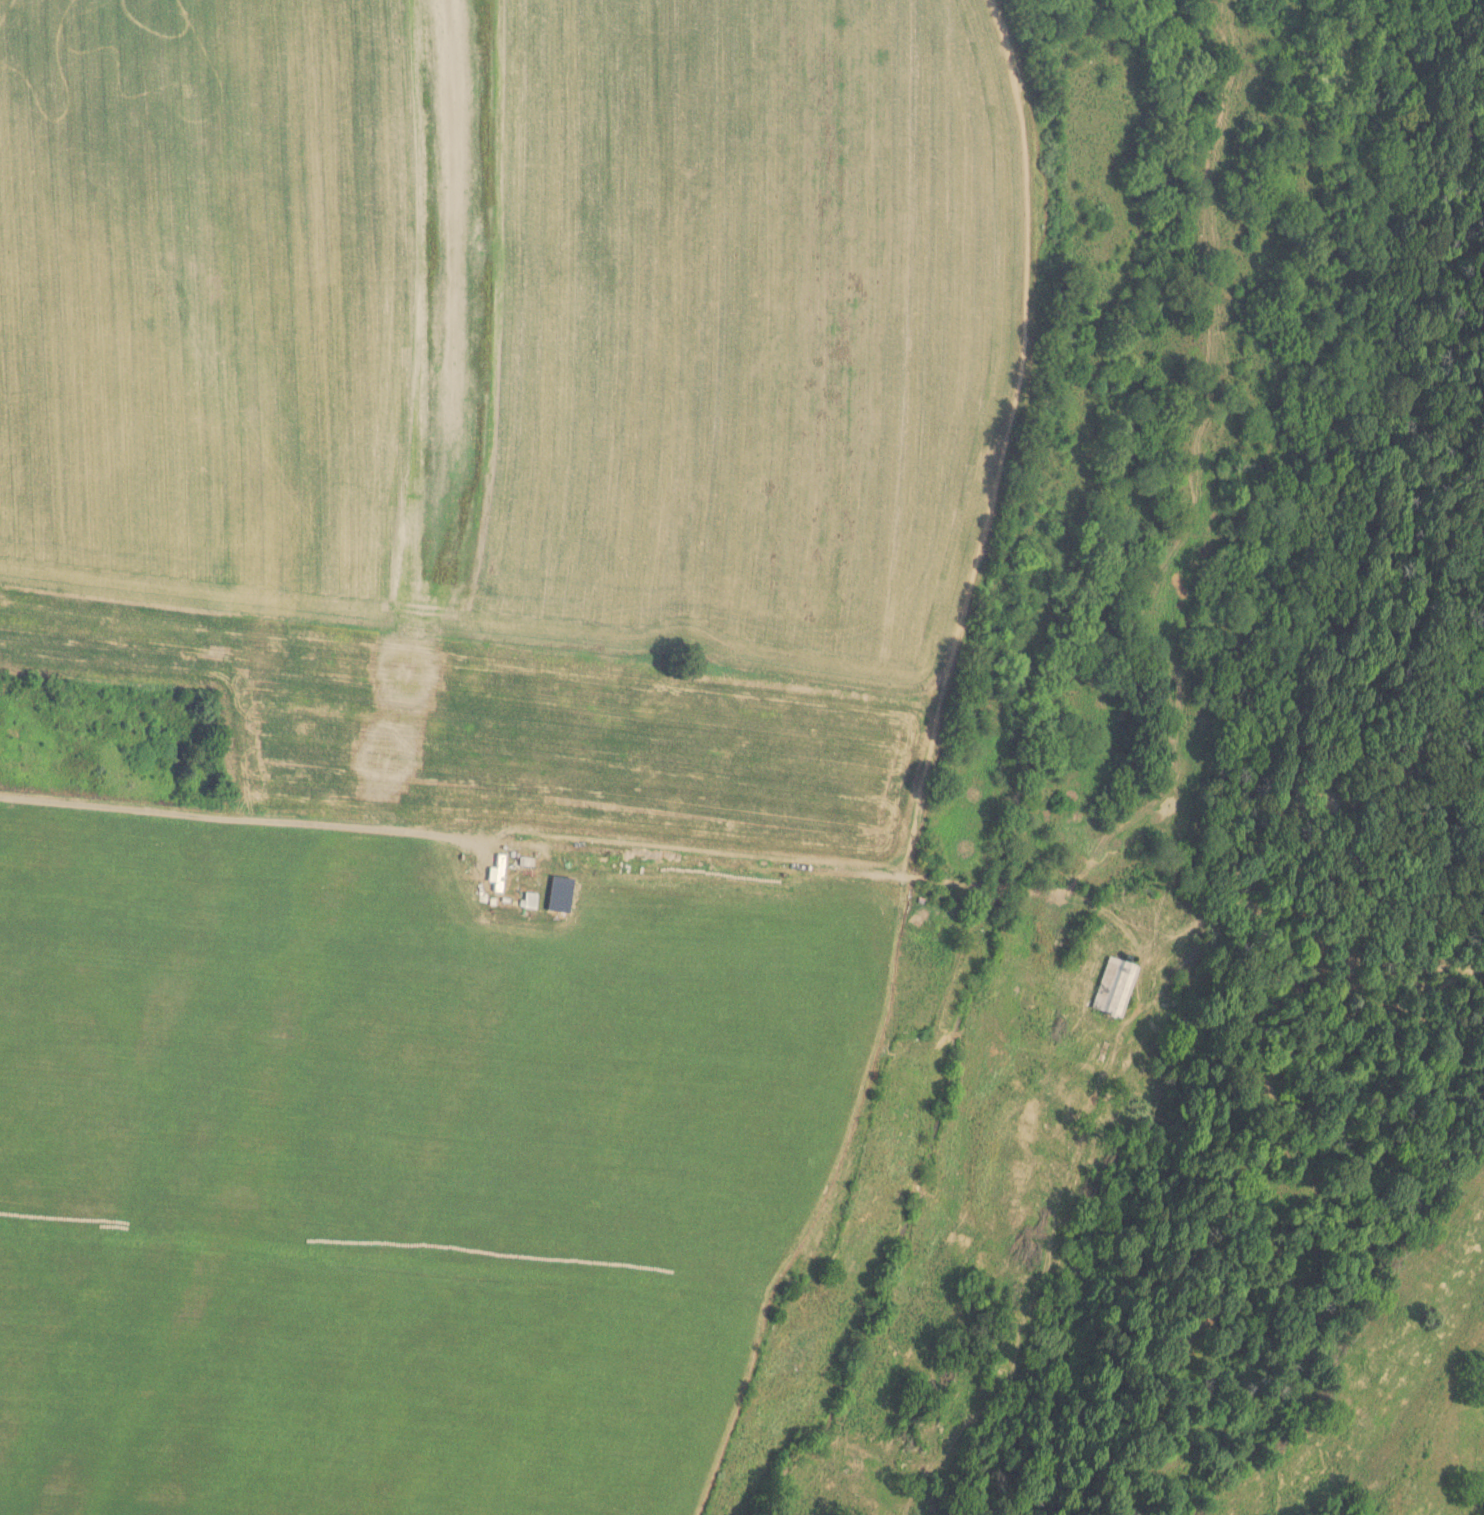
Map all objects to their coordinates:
building: (499, 872)
building: (1114, 986)

